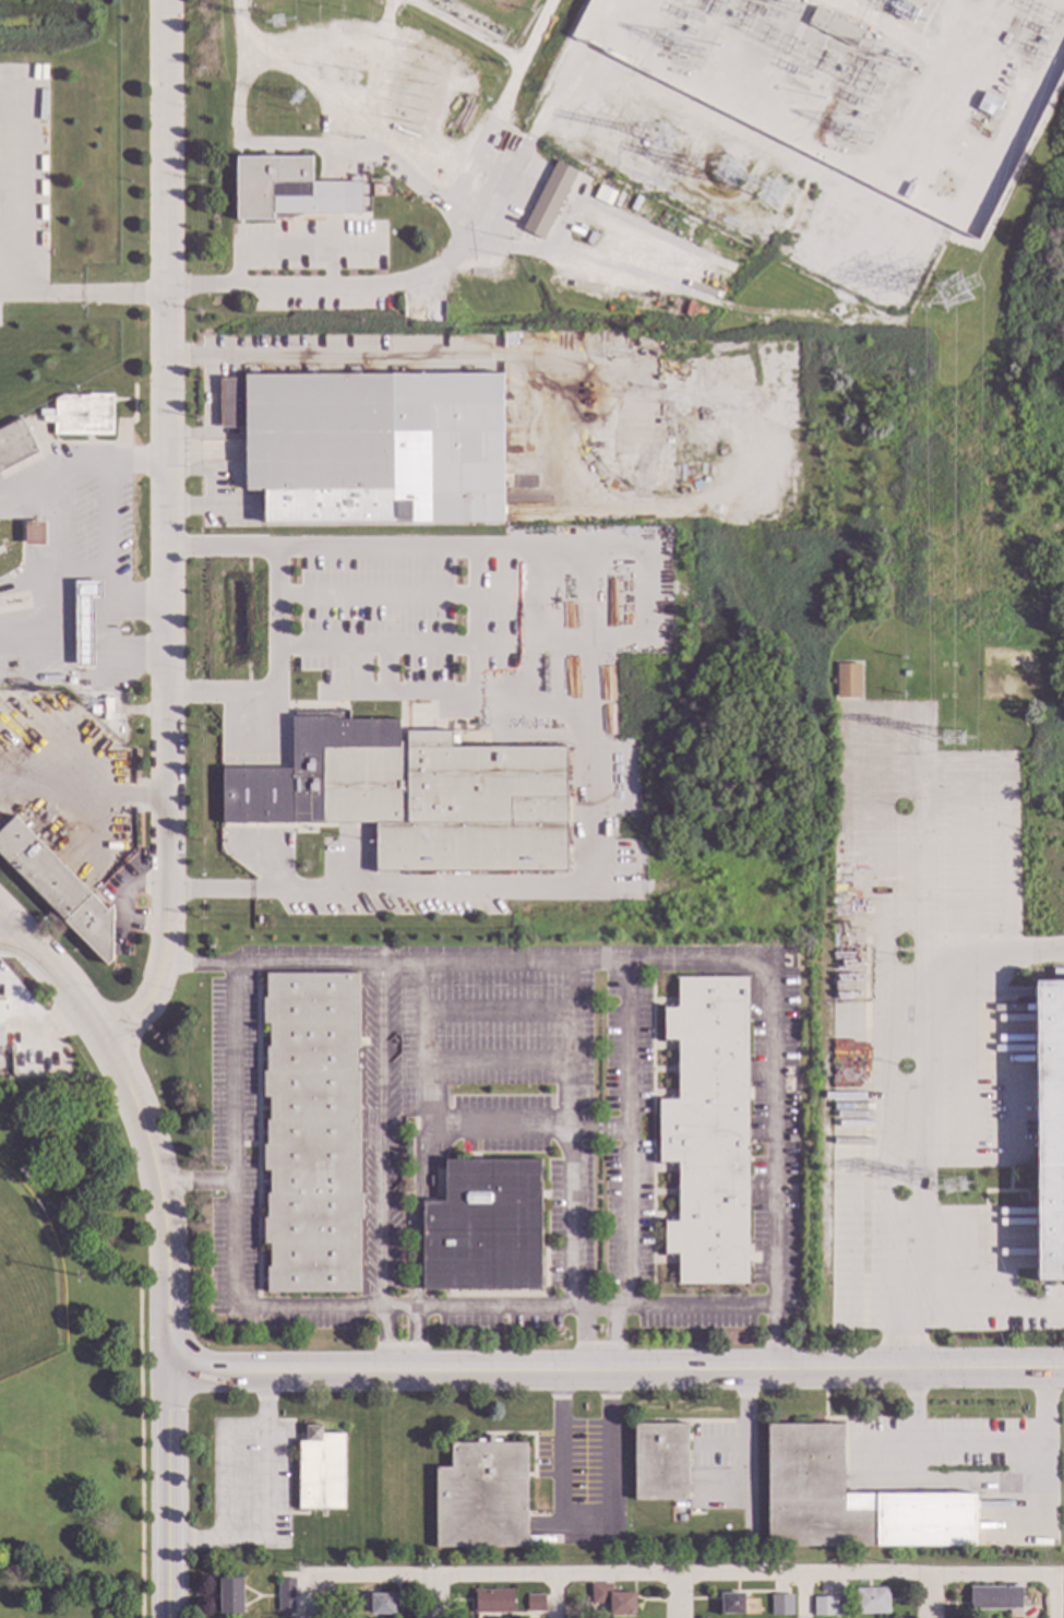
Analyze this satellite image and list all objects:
power tower: (277, 21)
building: (834, 27)
road: (463, 31)
power tower: (295, 100)
road: (357, 104)
building: (990, 105)
power substation: (798, 120)
power tower: (657, 136)
building: (381, 190)
building: (287, 191)
power tower: (774, 194)
building: (548, 200)
road: (445, 262)
road: (81, 295)
power tower: (956, 296)
building: (3, 312)
building: (730, 370)
building: (81, 415)
building: (14, 444)
building: (370, 445)
road: (99, 462)
road: (22, 488)
road: (105, 520)
road: (62, 526)
road: (163, 533)
building: (33, 534)
road: (219, 548)
building: (1, 549)
road: (52, 602)
road: (106, 605)
road: (134, 606)
building: (84, 620)
road: (28, 631)
road: (134, 649)
road: (276, 674)
building: (906, 674)
building: (847, 680)
building: (85, 683)
building: (107, 710)
road: (589, 718)
power tower: (953, 741)
road: (916, 754)
road: (113, 795)
road: (55, 797)
building: (450, 804)
road: (967, 834)
road: (1012, 836)
building: (57, 888)
road: (5, 928)
building: (210, 948)
road: (989, 960)
road: (672, 964)
road: (198, 965)
road: (57, 975)
road: (494, 1009)
road: (567, 1012)
building: (1, 1023)
road: (420, 1045)
building: (22, 1058)
road: (494, 1061)
road: (500, 1127)
road: (597, 1127)
building: (707, 1130)
building: (1050, 1130)
building: (311, 1133)
road: (626, 1134)
road: (381, 1137)
road: (195, 1183)
road: (567, 1183)
power tower: (954, 1183)
road: (162, 1204)
road: (232, 1210)
road: (417, 1214)
building: (483, 1227)
park: (27, 1282)
road: (694, 1306)
road: (499, 1307)
road: (598, 1307)
road: (398, 1309)
road: (983, 1313)
road: (776, 1337)
park: (71, 1356)
road: (615, 1371)
road: (742, 1433)
road: (979, 1447)
building: (660, 1461)
road: (223, 1463)
building: (321, 1471)
building: (482, 1496)
road: (167, 1497)
building: (851, 1500)
road: (264, 1503)
building: (681, 1515)
road: (590, 1522)
road: (656, 1579)
building: (230, 1595)
building: (287, 1595)
road: (437, 1597)
road: (558, 1598)
building: (612, 1598)
road: (676, 1598)
road: (802, 1598)
road: (933, 1598)
building: (994, 1598)
road: (1052, 1598)
building: (871, 1601)
building: (492, 1602)
building: (535, 1603)
building: (325, 1604)
building: (382, 1604)
building: (732, 1604)
building: (781, 1605)
building: (824, 1606)
building: (841, 1611)

